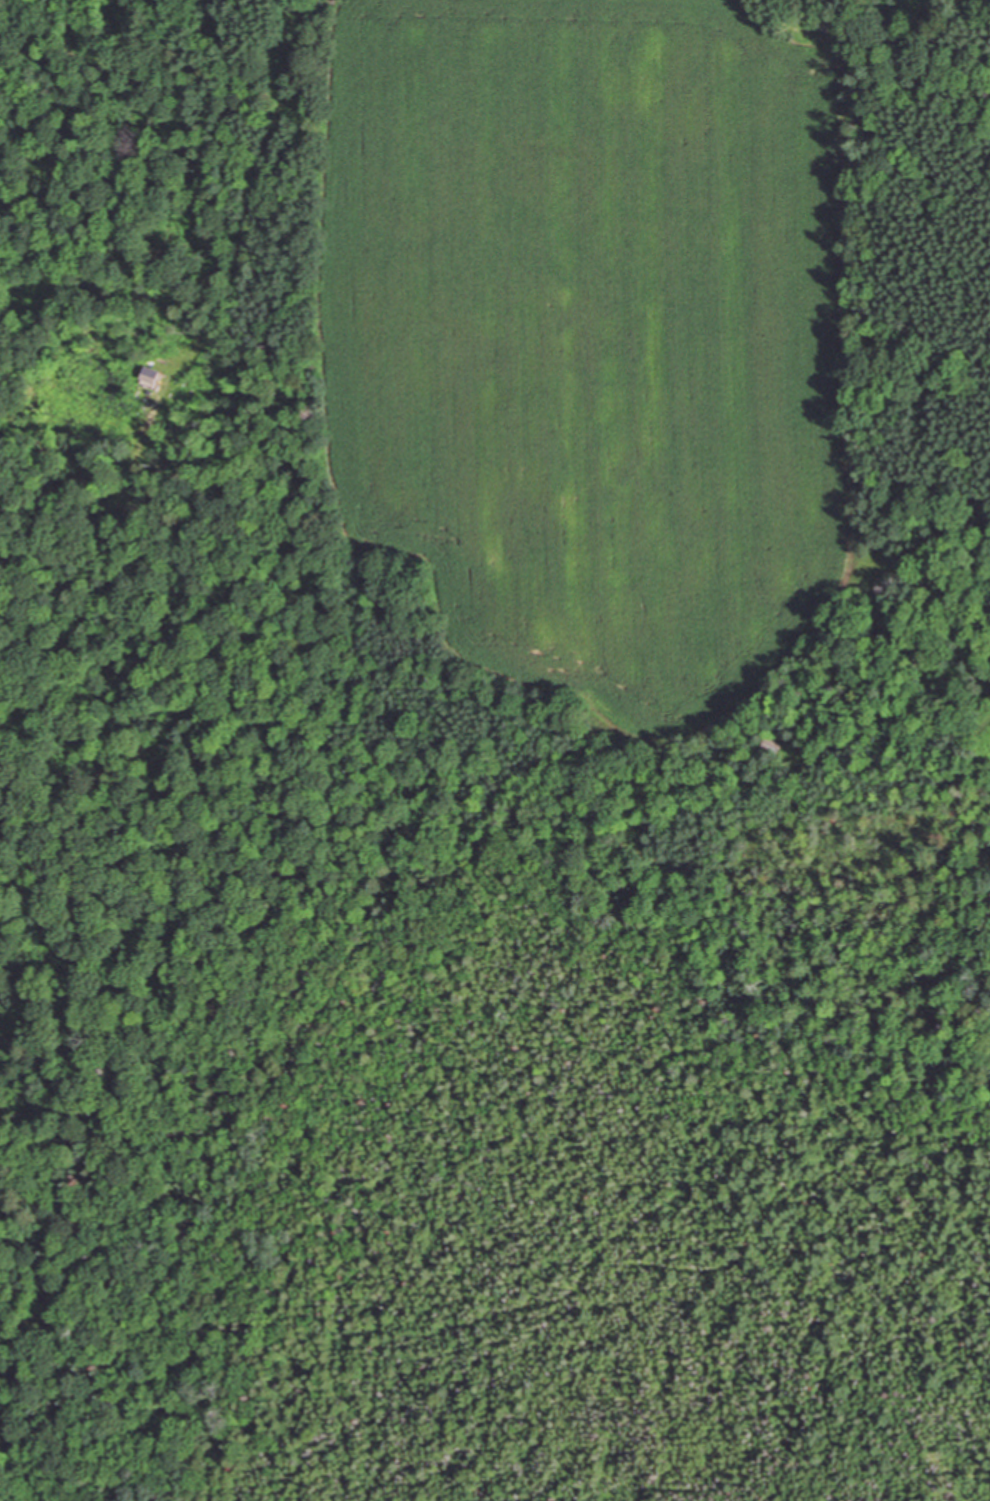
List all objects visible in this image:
building: (773, 744)

